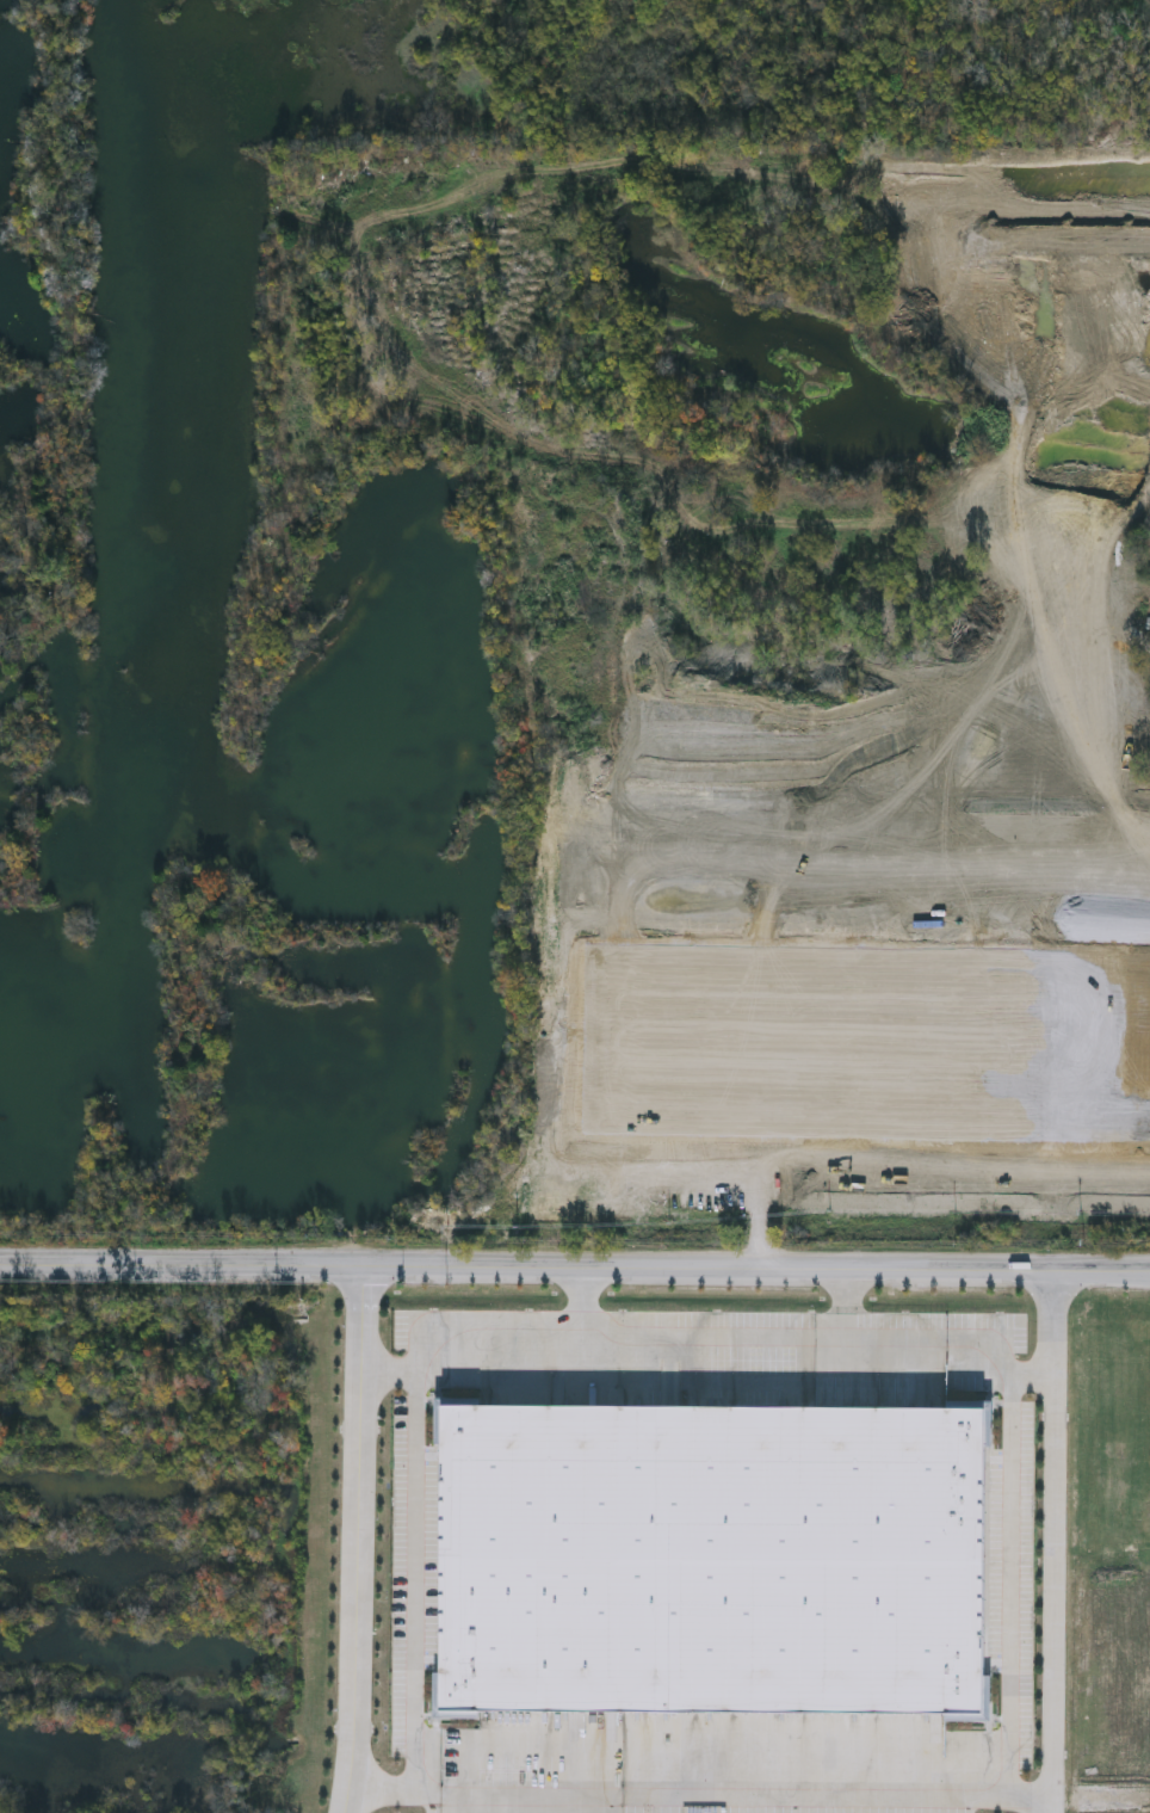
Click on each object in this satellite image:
building: (357, 208)
road: (574, 1275)
road: (583, 1296)
road: (867, 1336)
road: (1003, 1357)
road: (388, 1370)
road: (416, 1386)
road: (357, 1542)
road: (1055, 1542)
building: (711, 1555)
road: (1014, 1585)
road: (734, 1794)

